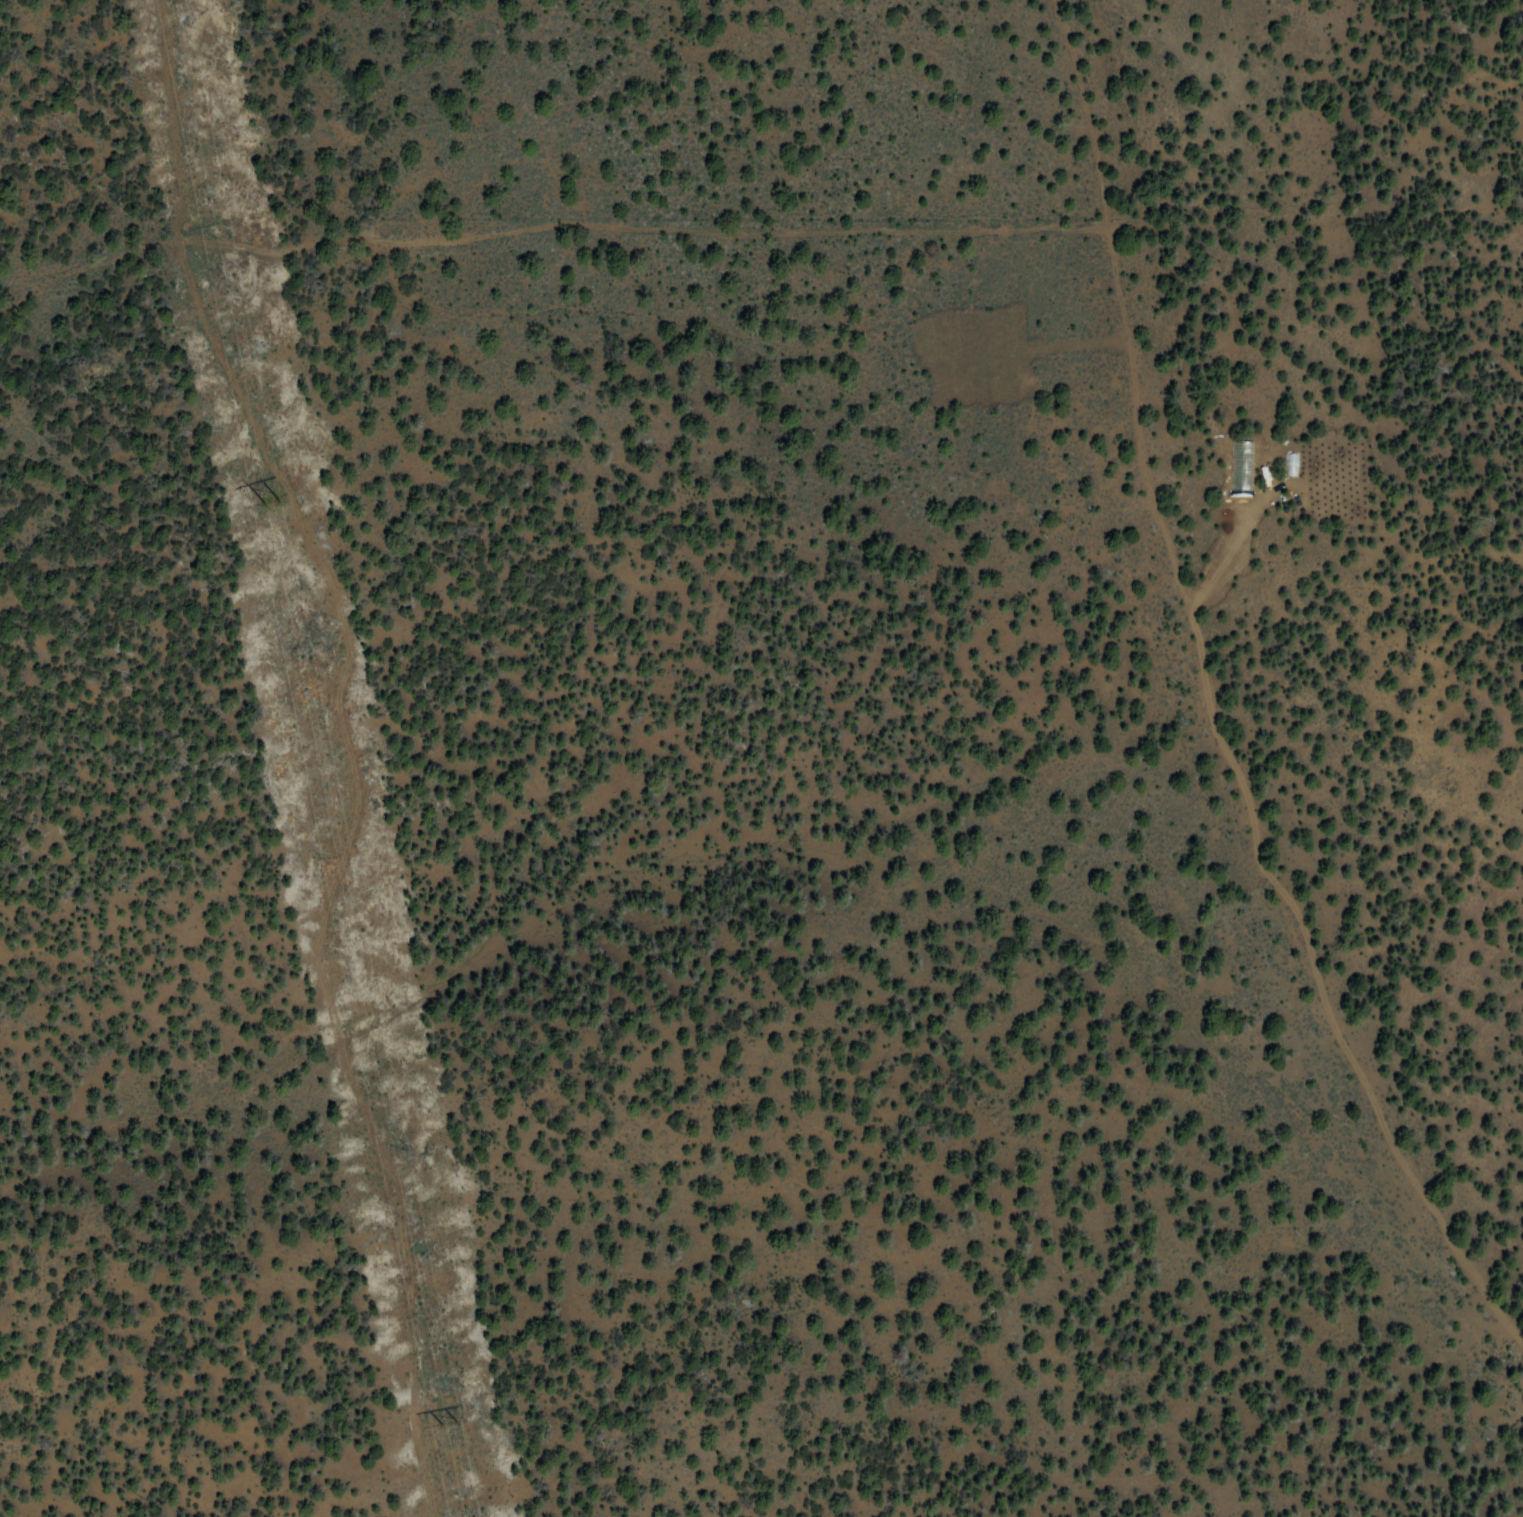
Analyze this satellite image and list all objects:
power tower: (268, 504)
power tower: (447, 1423)

